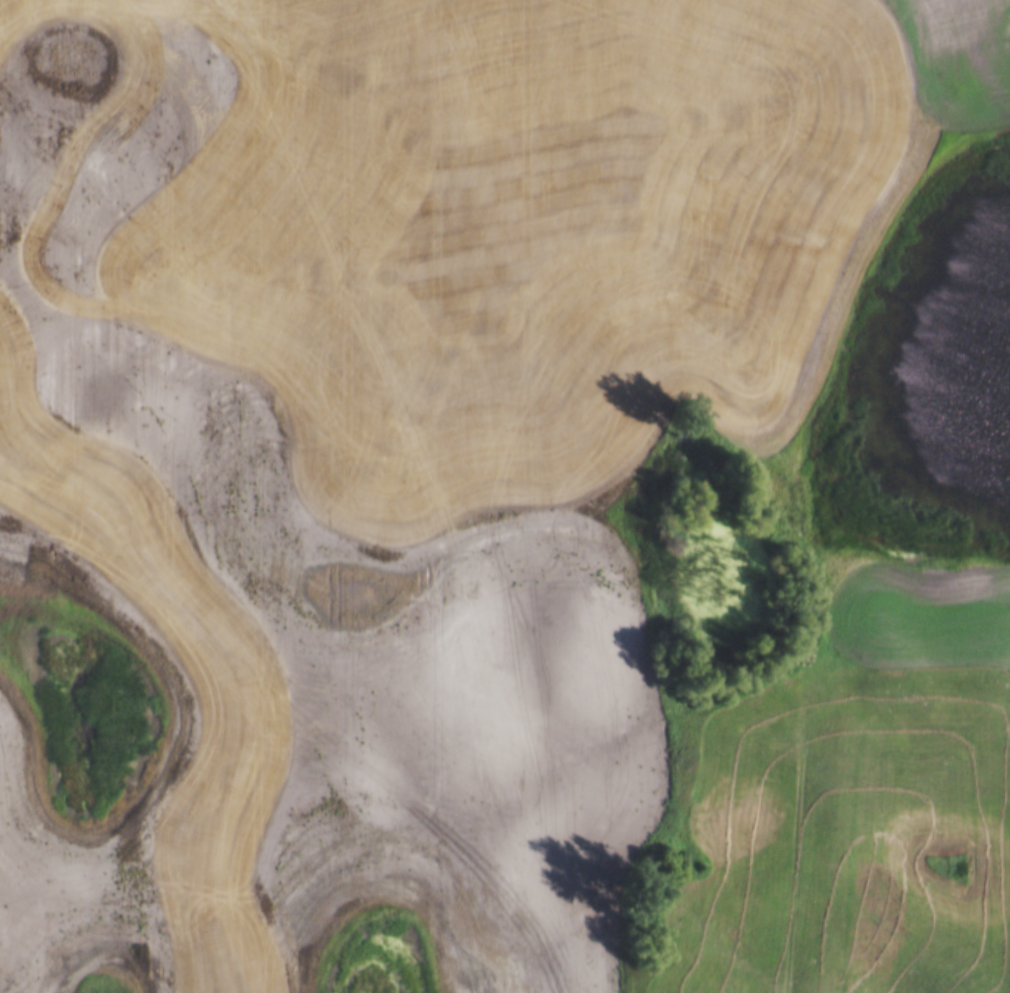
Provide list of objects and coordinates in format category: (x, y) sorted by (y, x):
road: (798, 830)

